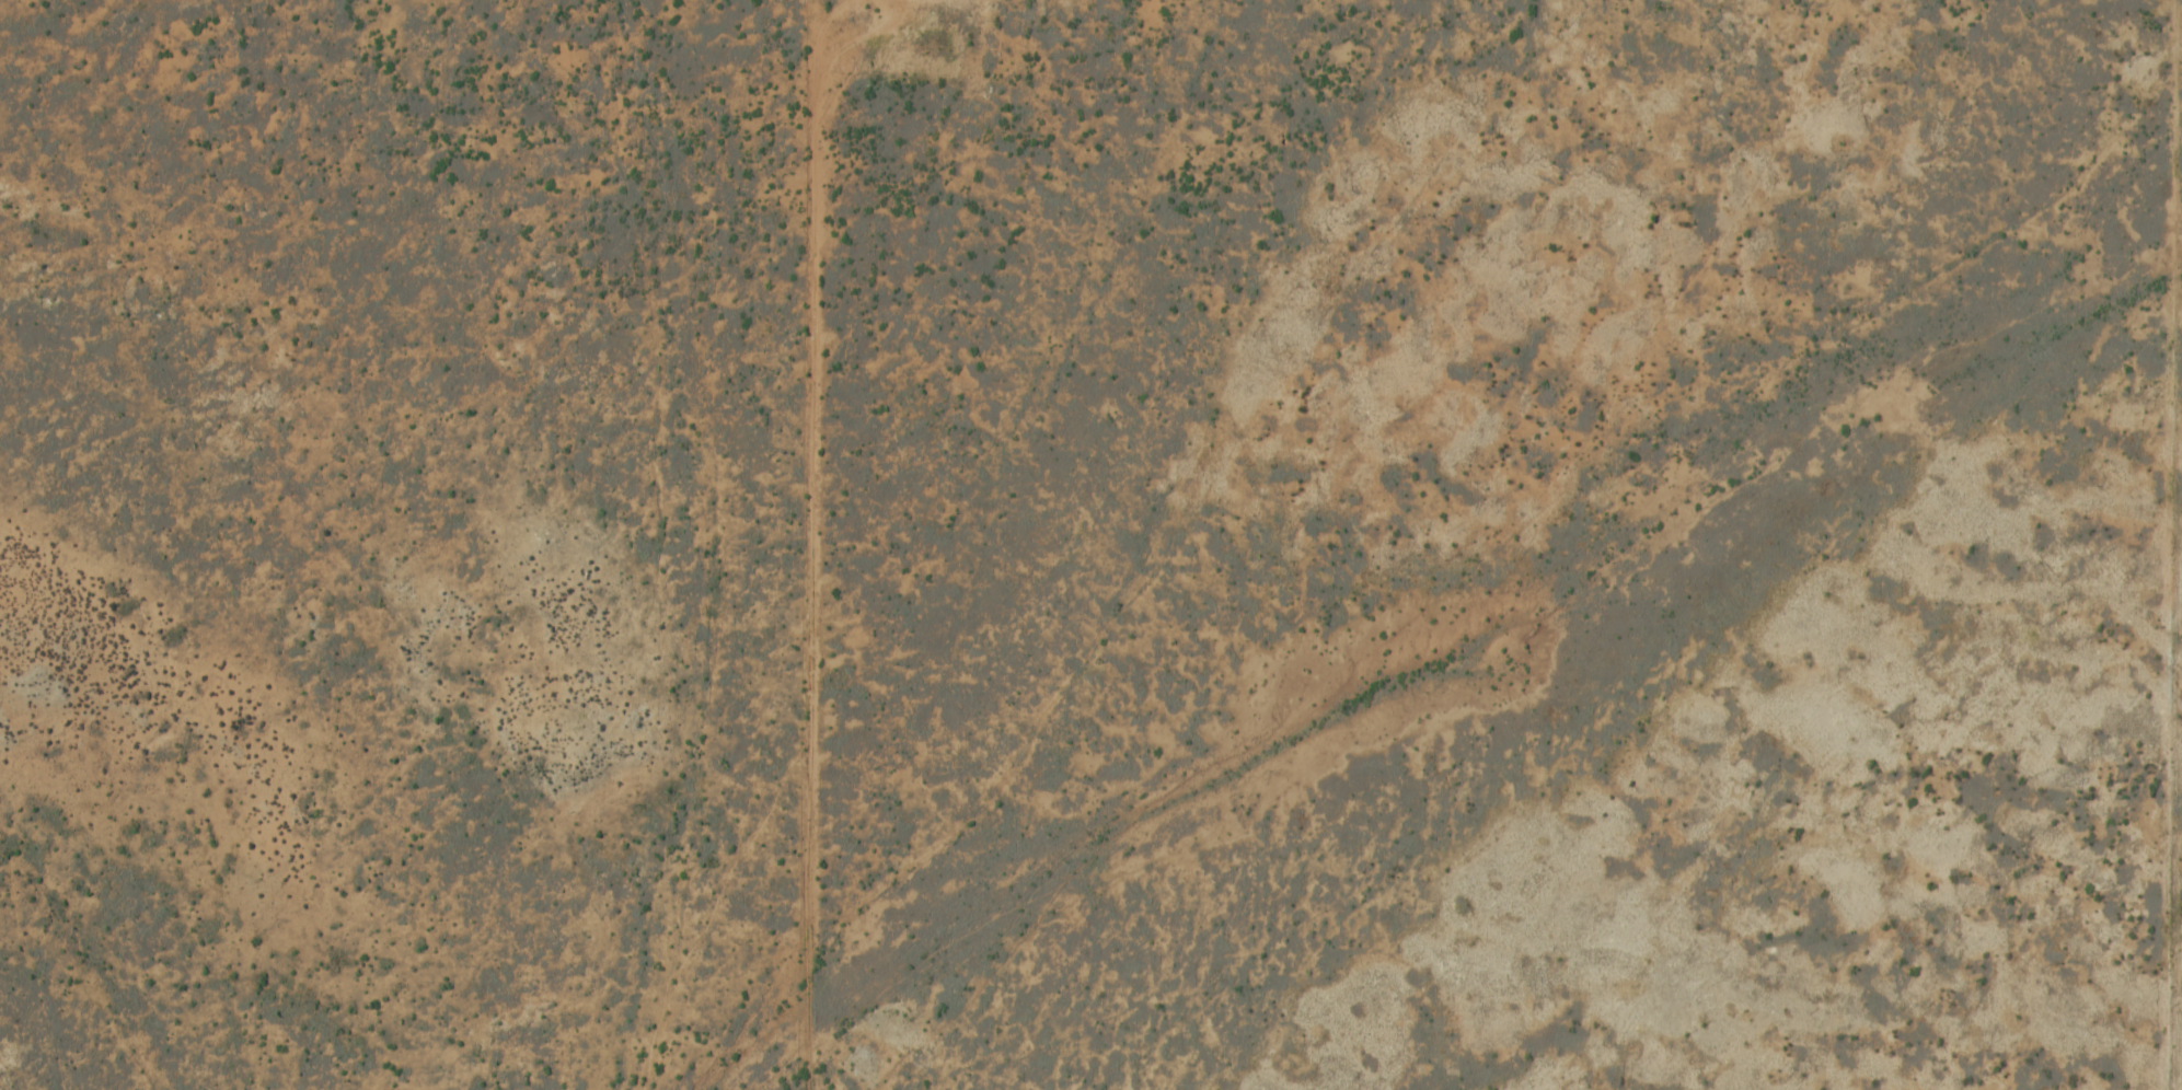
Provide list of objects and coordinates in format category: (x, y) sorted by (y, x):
road: (817, 544)

